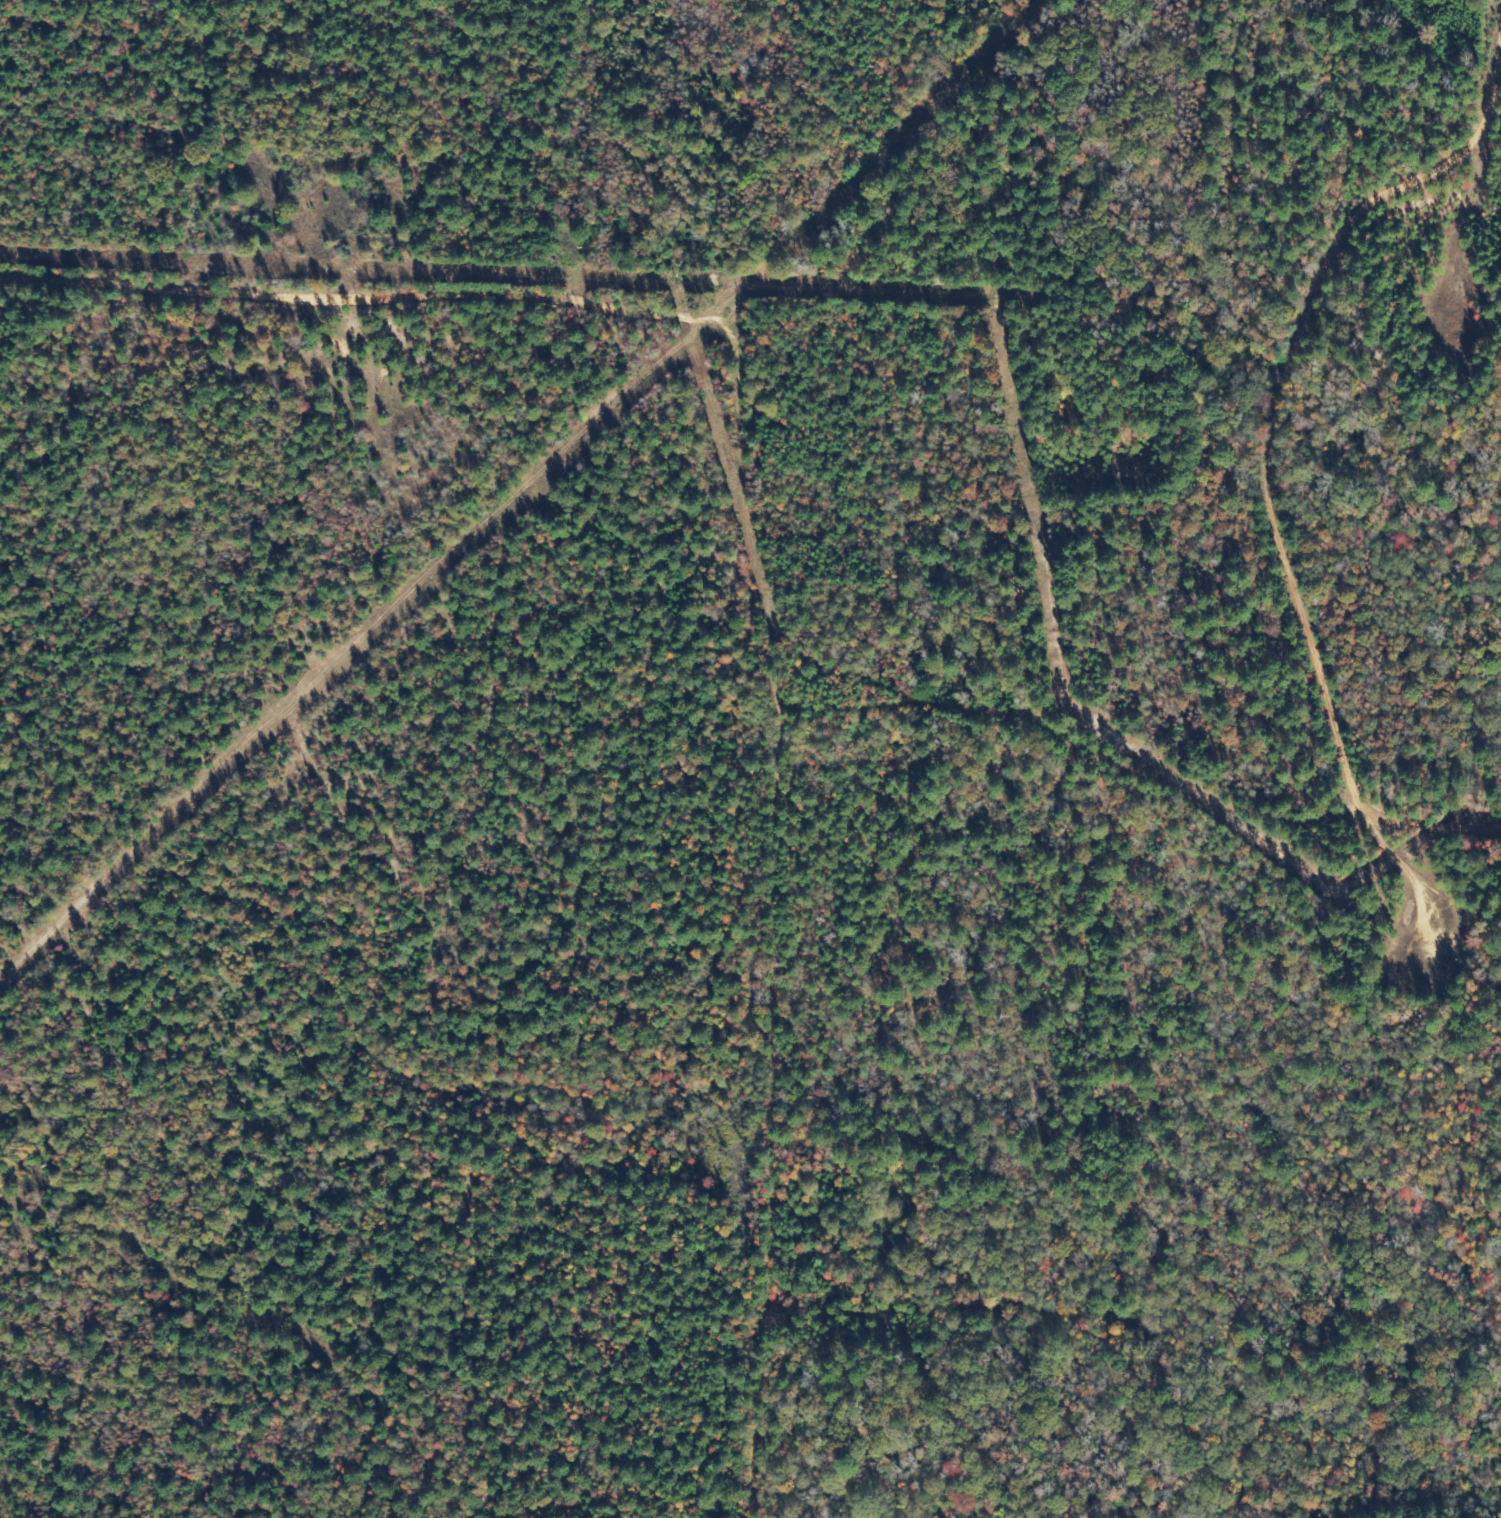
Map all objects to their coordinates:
road: (346, 285)

